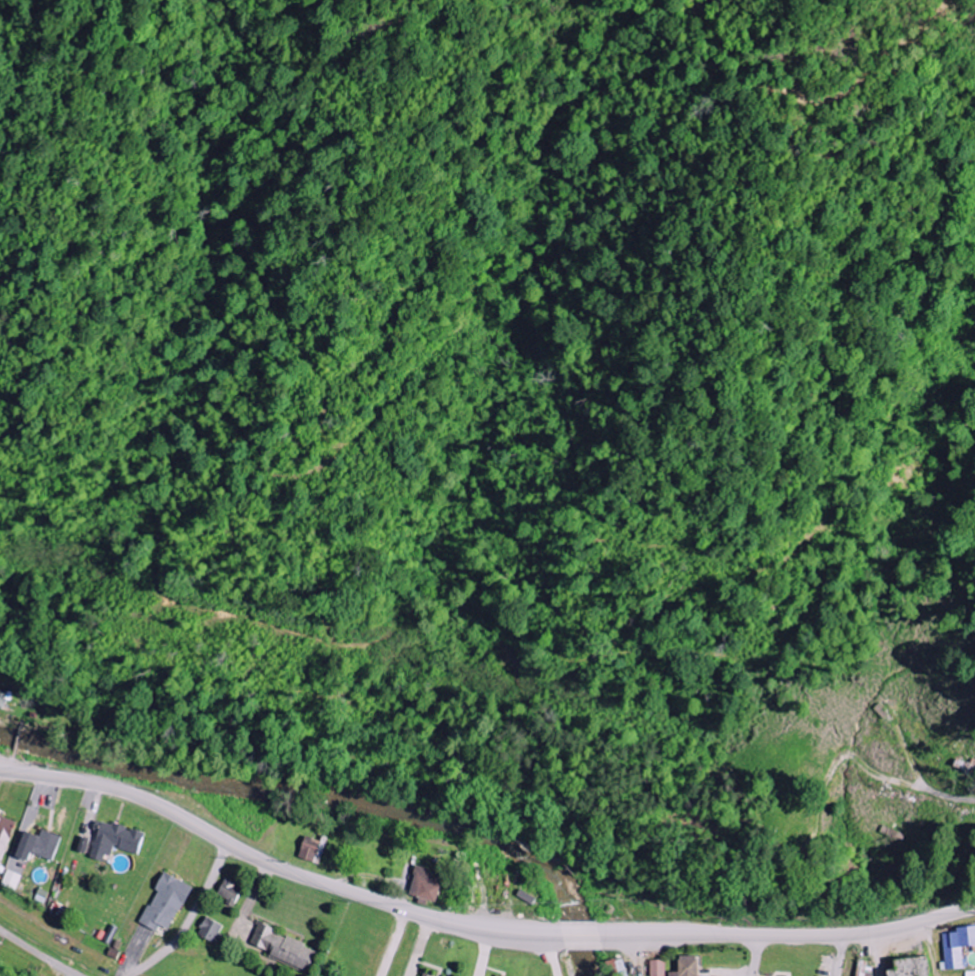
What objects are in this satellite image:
building: (3, 698)
road: (936, 793)
park: (788, 810)
building: (5, 835)
building: (115, 840)
building: (38, 845)
building: (9, 880)
building: (425, 885)
building: (229, 891)
building: (165, 903)
road: (188, 919)
road: (475, 929)
building: (209, 930)
building: (957, 946)
building: (283, 948)
road: (36, 954)
road: (757, 956)
road: (840, 956)
building: (688, 966)
building: (617, 968)
building: (658, 968)
building: (861, 968)
building: (424, 975)

